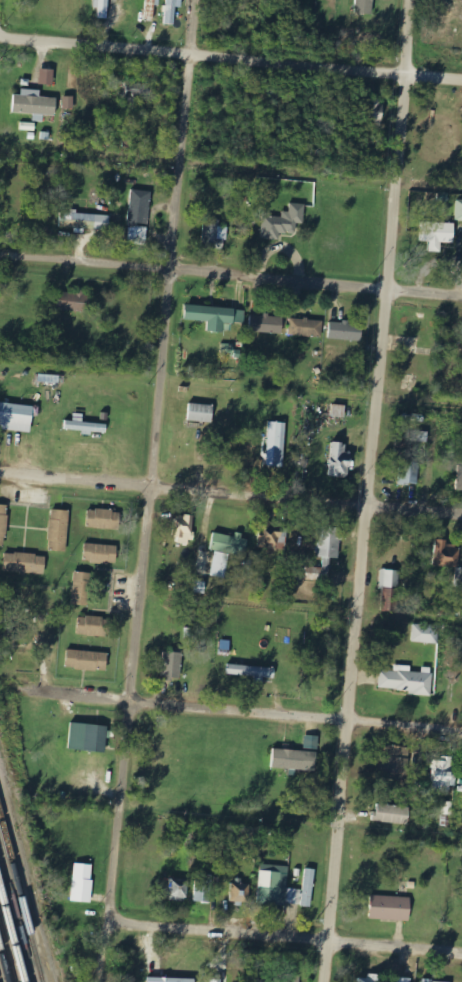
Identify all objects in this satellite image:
building: (365, 7)
building: (103, 8)
building: (151, 10)
building: (173, 10)
road: (231, 57)
building: (48, 77)
building: (69, 103)
building: (34, 105)
building: (458, 210)
building: (139, 218)
building: (85, 220)
building: (284, 223)
building: (438, 235)
building: (214, 237)
road: (231, 274)
building: (75, 302)
building: (212, 317)
building: (266, 324)
building: (306, 328)
building: (347, 332)
building: (228, 350)
building: (340, 412)
building: (201, 413)
building: (17, 418)
building: (86, 426)
building: (418, 437)
building: (277, 445)
building: (340, 462)
building: (409, 473)
road: (368, 490)
road: (152, 491)
road: (230, 495)
building: (105, 519)
building: (3, 524)
building: (185, 529)
building: (59, 530)
building: (270, 535)
building: (324, 549)
building: (226, 551)
building: (102, 553)
building: (445, 555)
building: (25, 563)
building: (389, 579)
building: (82, 589)
building: (95, 626)
building: (425, 634)
building: (88, 660)
building: (173, 665)
building: (254, 672)
building: (406, 680)
road: (236, 712)
building: (89, 738)
building: (294, 760)
building: (395, 763)
building: (444, 774)
building: (392, 814)
building: (83, 883)
building: (276, 887)
building: (308, 888)
building: (178, 889)
building: (202, 889)
building: (240, 892)
railway: (20, 901)
building: (391, 908)
railway: (16, 918)
railway: (12, 935)
road: (285, 941)
railway: (7, 952)
railway: (4, 965)
building: (284, 978)
building: (401, 979)
building: (172, 980)
building: (217, 980)
building: (367, 980)
railway: (0, 981)
building: (433, 981)

